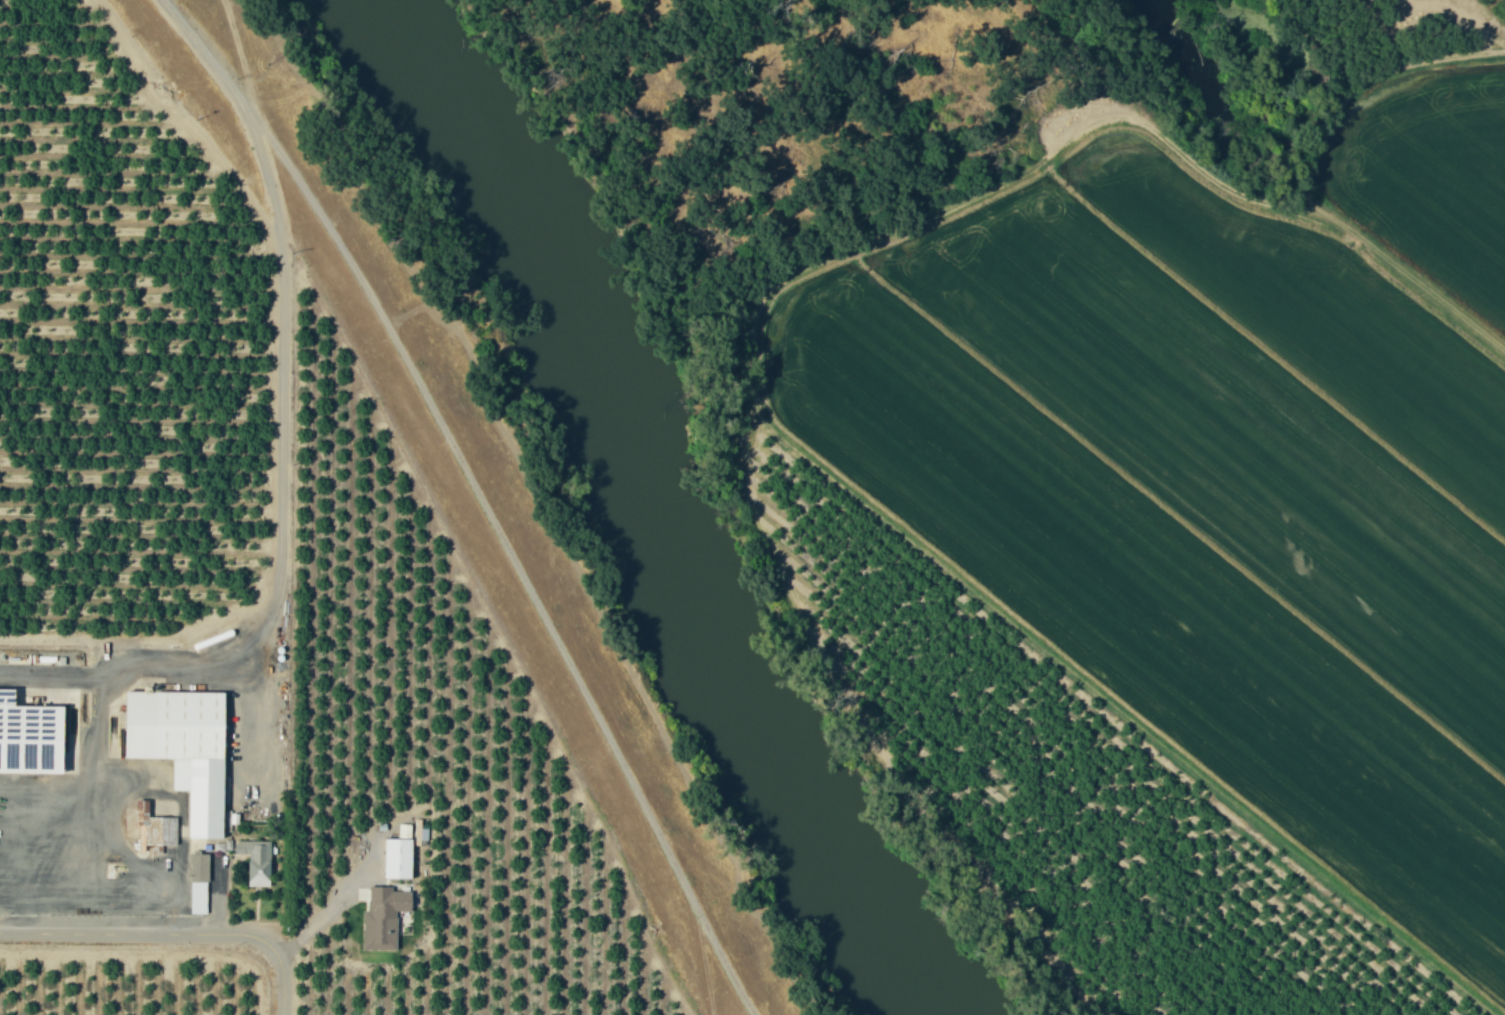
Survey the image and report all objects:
road: (206, 54)
road: (512, 556)
road: (278, 588)
building: (29, 737)
building: (182, 748)
building: (155, 831)
building: (397, 858)
building: (257, 863)
building: (199, 884)
building: (384, 918)
road: (172, 934)

